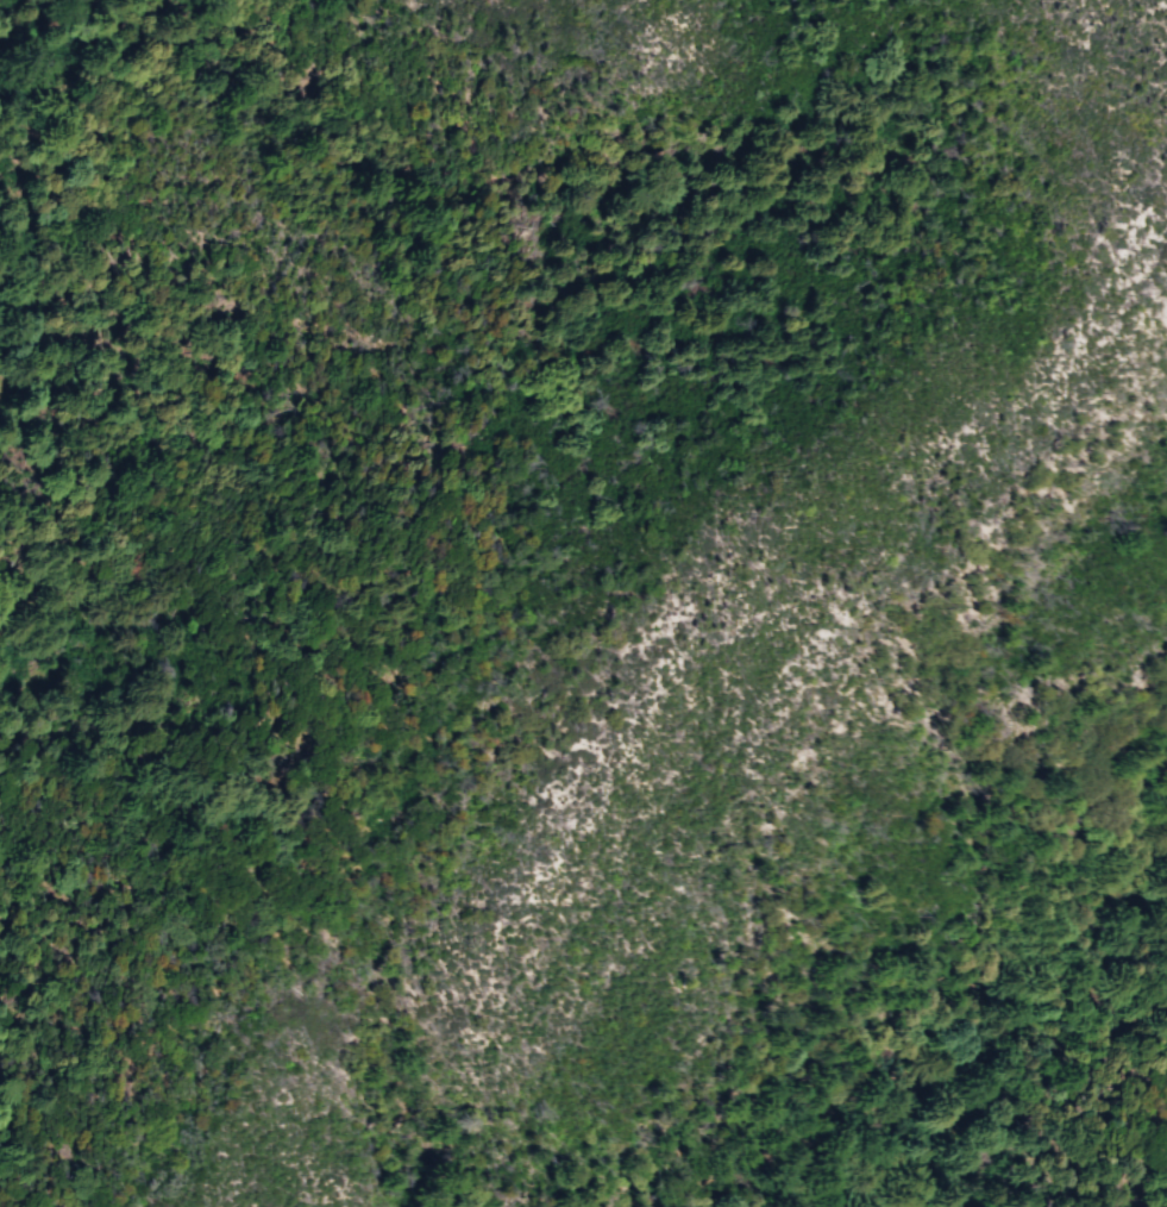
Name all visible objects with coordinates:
road: (0, 390)

